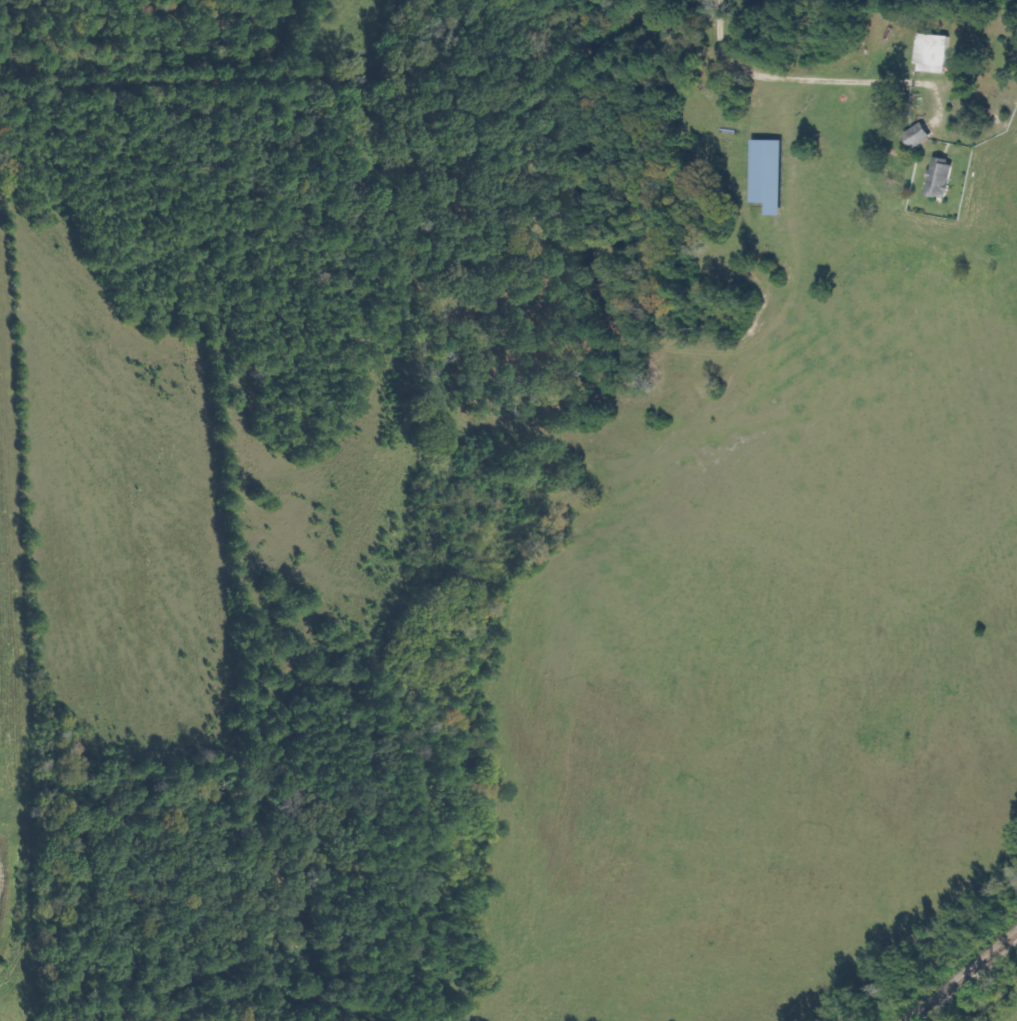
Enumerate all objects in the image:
building: (931, 53)
building: (916, 135)
building: (939, 177)
railway: (962, 975)

